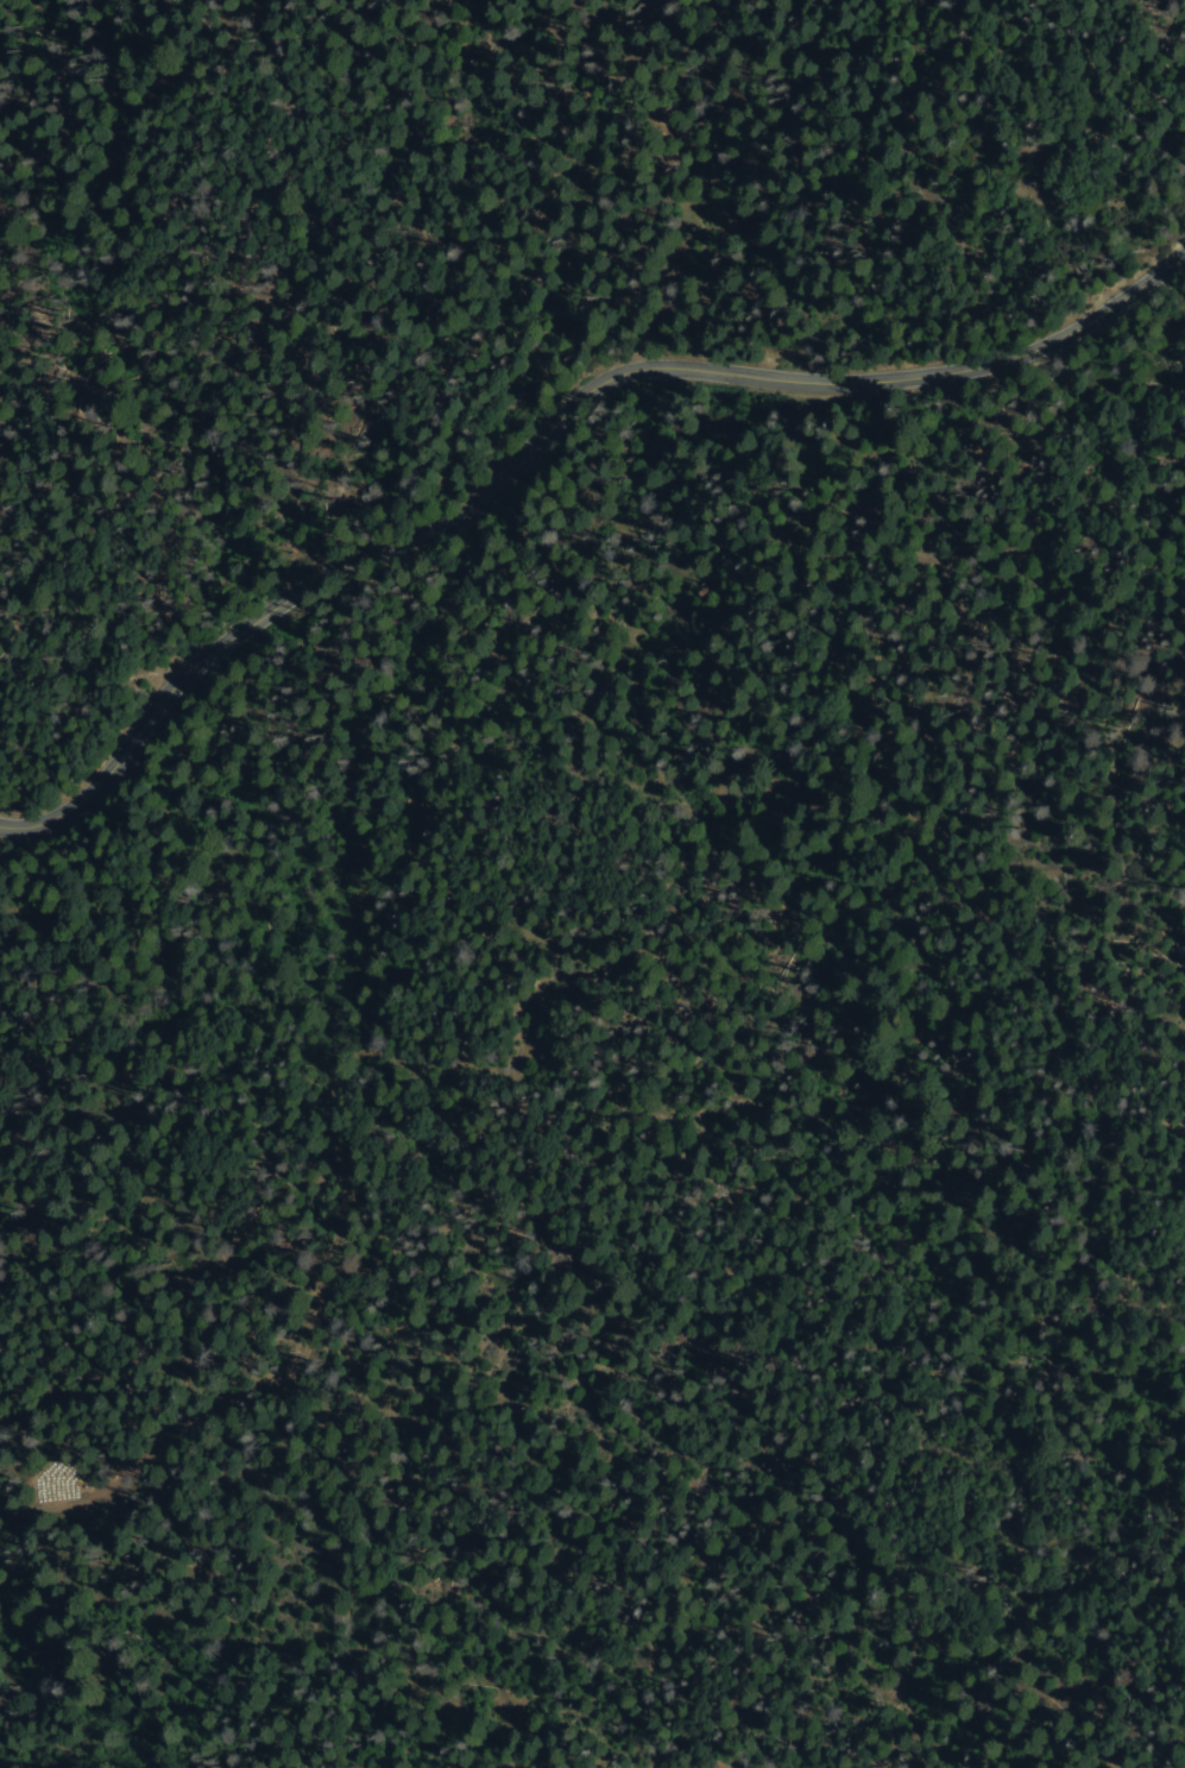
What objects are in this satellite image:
road: (548, 432)

